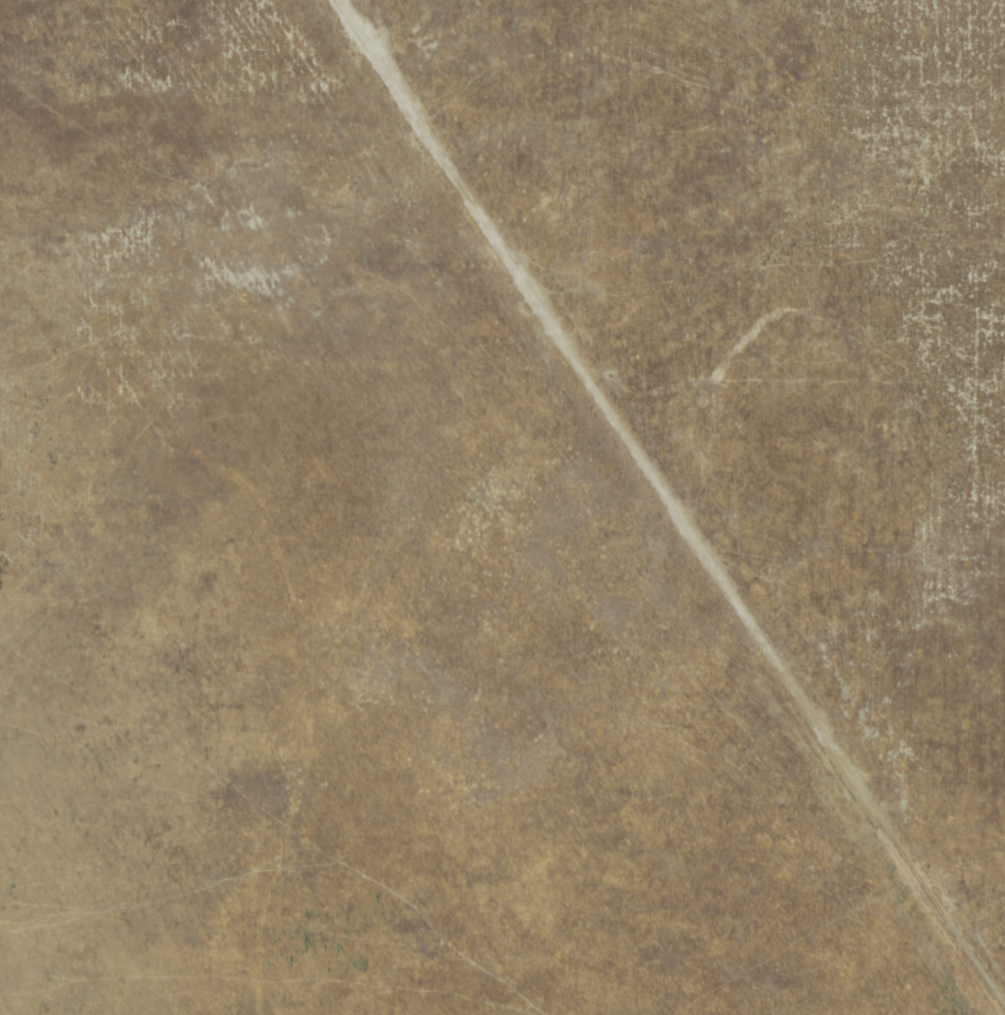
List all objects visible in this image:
road: (675, 492)

